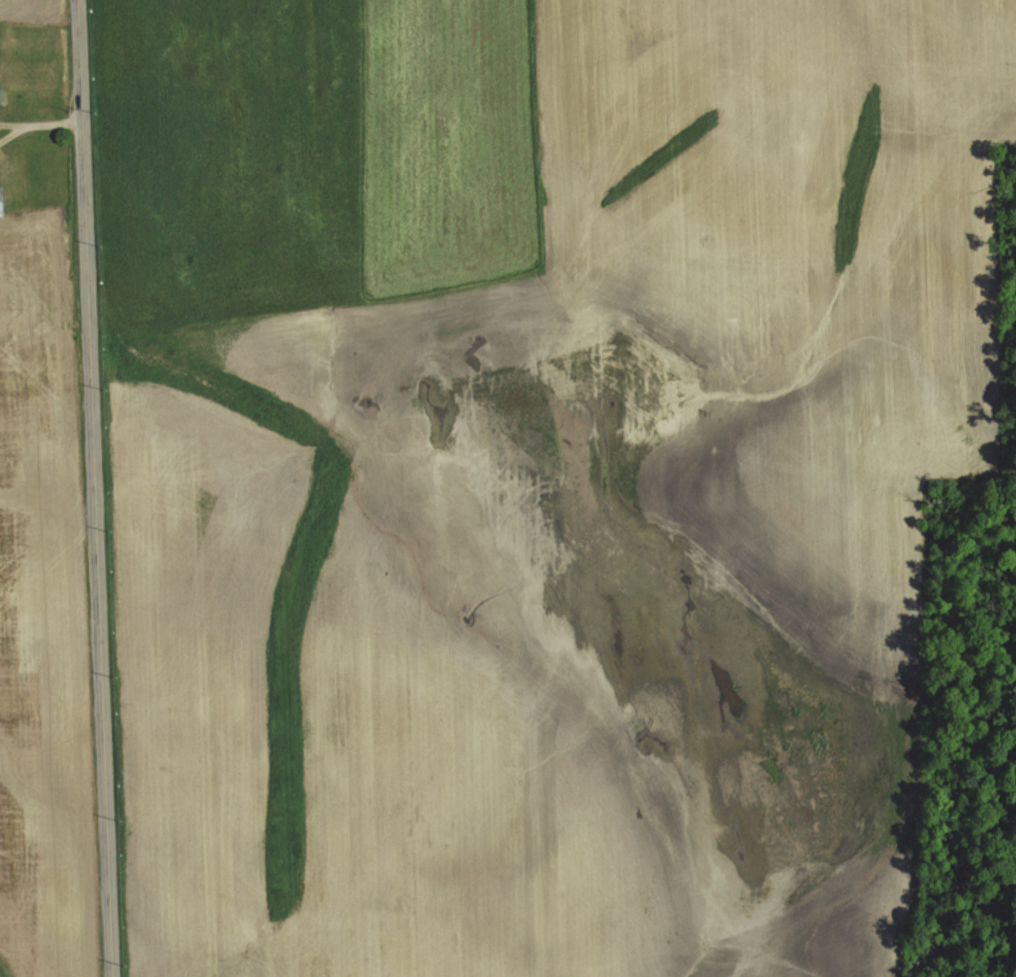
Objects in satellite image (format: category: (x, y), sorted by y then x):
building: (1, 95)
road: (51, 121)
road: (12, 122)
road: (12, 131)
building: (2, 201)
road: (90, 488)

